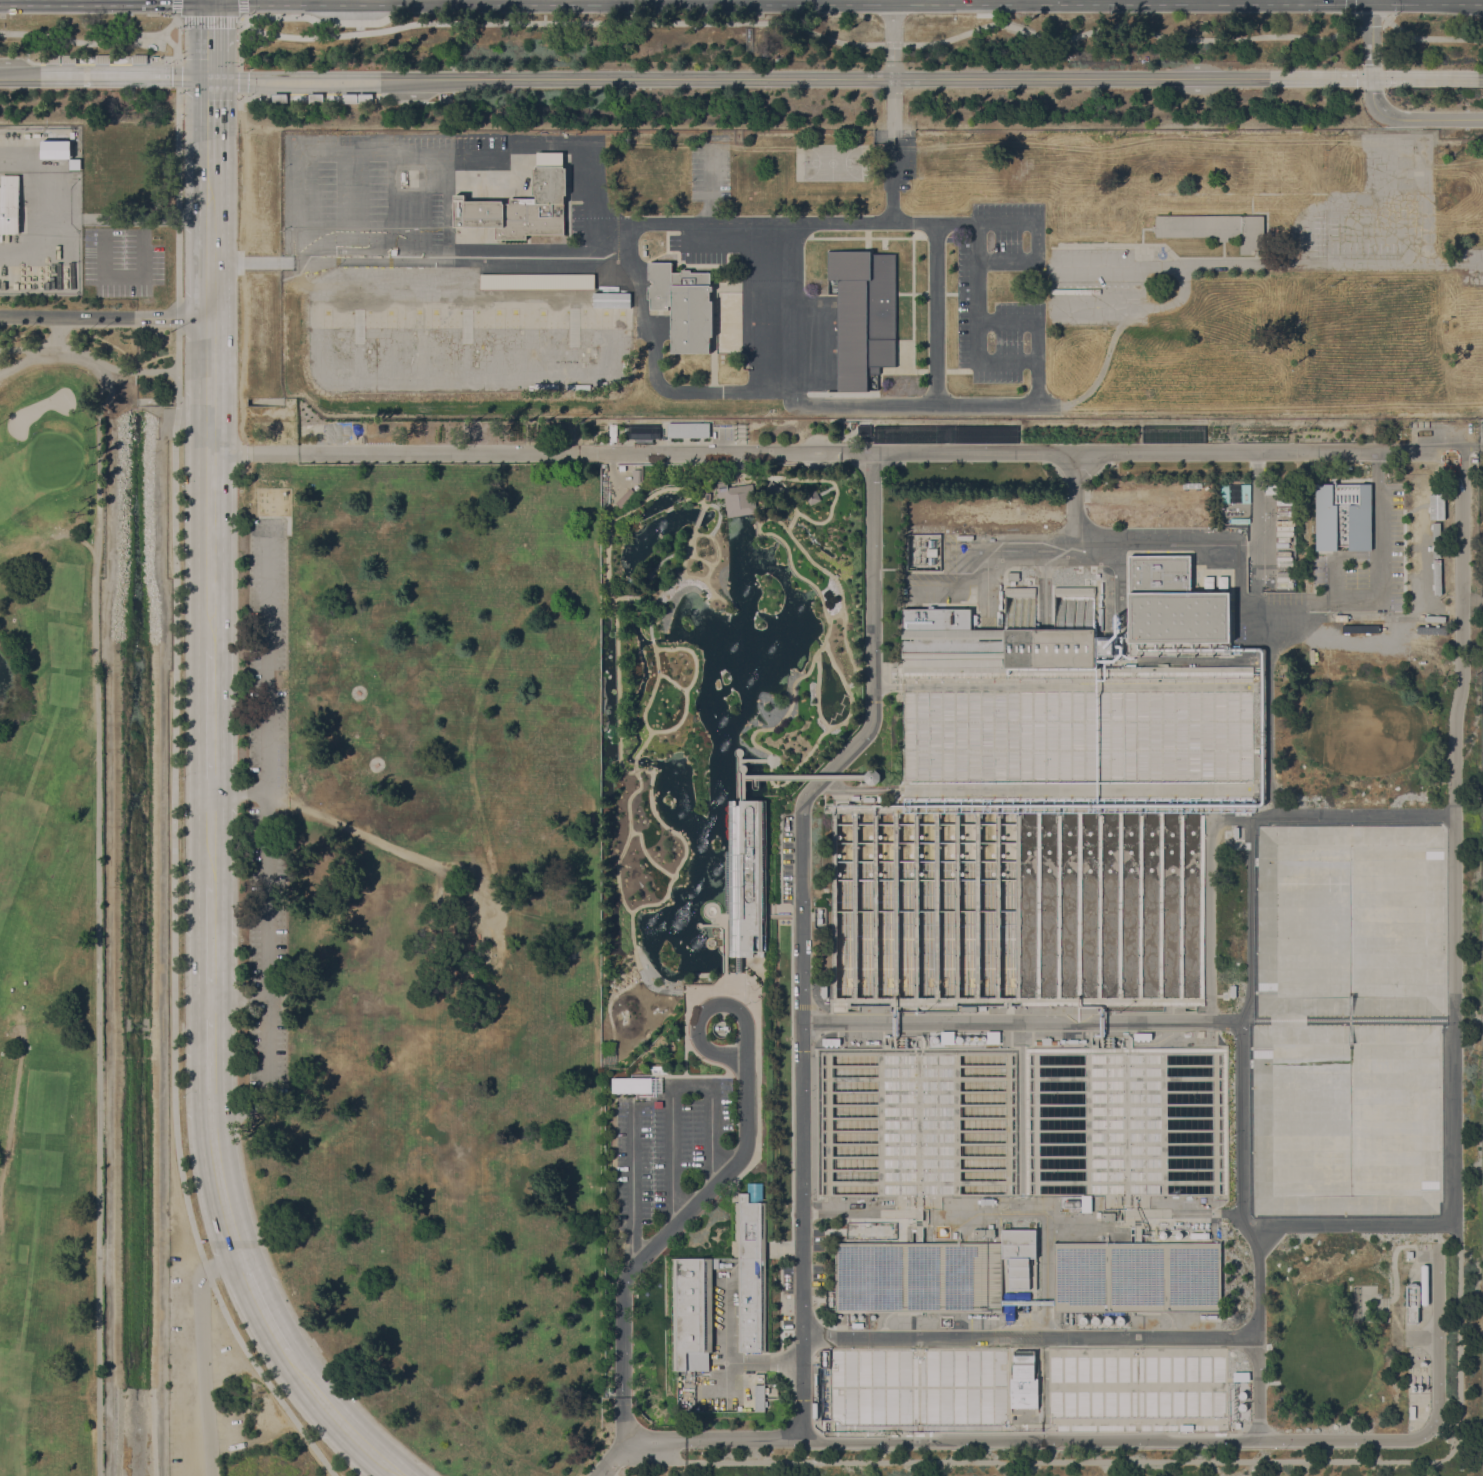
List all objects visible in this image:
road: (178, 8)
road: (241, 8)
road: (1350, 11)
road: (287, 14)
road: (210, 16)
road: (1366, 20)
road: (800, 29)
road: (892, 29)
road: (1430, 37)
road: (209, 38)
road: (92, 42)
road: (172, 43)
building: (52, 58)
building: (68, 58)
building: (101, 58)
building: (138, 58)
road: (111, 59)
traffic signals: (1371, 62)
road: (176, 72)
traffic signals: (209, 77)
road: (239, 81)
traffic signals: (1372, 92)
road: (307, 94)
building: (278, 97)
building: (315, 97)
building: (348, 97)
building: (364, 97)
road: (893, 99)
road: (1377, 107)
road: (209, 123)
park: (832, 161)
building: (75, 163)
building: (403, 176)
road: (892, 181)
building: (522, 204)
building: (10, 205)
parking lot: (1377, 205)
road: (720, 223)
building: (1216, 228)
road: (244, 260)
building: (537, 280)
building: (830, 286)
building: (610, 299)
building: (684, 304)
building: (864, 314)
road: (104, 315)
building: (327, 316)
building: (390, 316)
building: (418, 316)
building: (435, 316)
building: (499, 316)
building: (514, 316)
building: (621, 316)
building: (542, 317)
building: (606, 317)
building: (359, 324)
building: (466, 324)
building: (573, 326)
road: (56, 335)
road: (89, 356)
road: (25, 360)
road: (91, 366)
road: (120, 394)
road: (152, 400)
road: (266, 401)
road: (870, 403)
building: (608, 427)
building: (688, 429)
building: (643, 433)
road: (891, 449)
road: (253, 453)
building: (637, 475)
road: (299, 485)
road: (611, 485)
building: (1275, 487)
road: (825, 488)
building: (1225, 492)
building: (1245, 492)
road: (690, 494)
building: (707, 495)
building: (811, 496)
building: (625, 497)
building: (737, 498)
building: (1435, 506)
road: (794, 509)
road: (663, 510)
road: (718, 514)
building: (1343, 515)
road: (698, 516)
road: (790, 520)
road: (624, 532)
building: (1434, 543)
road: (241, 545)
road: (804, 552)
road: (1334, 555)
road: (667, 556)
road: (699, 558)
road: (712, 562)
building: (650, 574)
road: (693, 574)
building: (1013, 575)
road: (670, 581)
road: (816, 588)
building: (1019, 589)
building: (1074, 589)
road: (1240, 592)
road: (629, 596)
road: (709, 596)
road: (643, 597)
road: (1472, 597)
road: (1481, 597)
road: (617, 598)
building: (1174, 610)
road: (834, 614)
road: (651, 640)
building: (993, 640)
road: (691, 653)
road: (792, 685)
road: (686, 706)
road: (839, 708)
road: (839, 725)
building: (1076, 737)
park: (741, 745)
road: (737, 756)
road: (802, 761)
road: (621, 767)
road: (742, 771)
road: (174, 773)
building: (871, 775)
road: (793, 776)
road: (637, 777)
building: (783, 778)
road: (737, 789)
road: (240, 794)
parking lot: (266, 804)
road: (1235, 819)
road: (371, 838)
road: (266, 839)
road: (214, 853)
road: (647, 854)
building: (745, 880)
building: (725, 882)
building: (923, 907)
road: (703, 908)
building: (1110, 908)
fountain: (711, 912)
road: (725, 916)
park: (51, 924)
road: (160, 924)
road: (711, 924)
road: (109, 938)
road: (97, 939)
fountain: (711, 943)
park: (430, 945)
road: (723, 950)
building: (737, 966)
road: (729, 986)
wastewater plant: (1122, 994)
road: (242, 997)
road: (610, 1000)
flagpole: (753, 1001)
road: (704, 1008)
road: (1411, 1019)
road: (801, 1020)
building: (947, 1037)
building: (993, 1037)
building: (935, 1039)
building: (959, 1039)
building: (636, 1084)
road: (674, 1088)
building: (658, 1103)
road: (11, 1117)
building: (1119, 1120)
building: (916, 1121)
road: (1241, 1132)
parking lot: (666, 1152)
road: (632, 1186)
building: (754, 1191)
building: (1072, 1202)
building: (1086, 1203)
road: (857, 1212)
building: (1108, 1216)
road: (1449, 1217)
building: (943, 1231)
building: (984, 1232)
road: (644, 1253)
building: (1410, 1254)
building: (1018, 1256)
building: (751, 1273)
road: (1043, 1274)
building: (918, 1276)
building: (1137, 1277)
building: (1425, 1283)
building: (1412, 1301)
building: (692, 1312)
building: (1083, 1320)
building: (1095, 1320)
building: (1108, 1320)
building: (1120, 1320)
building: (857, 1324)
road: (1029, 1335)
road: (1423, 1337)
road: (202, 1352)
road: (753, 1362)
parking lot: (210, 1375)
building: (1241, 1376)
building: (1023, 1380)
building: (917, 1385)
building: (1135, 1387)
building: (1242, 1395)
building: (759, 1397)
building: (1242, 1407)
building: (814, 1410)
building: (1412, 1412)
building: (1237, 1425)
road: (1204, 1439)
road: (318, 1453)

